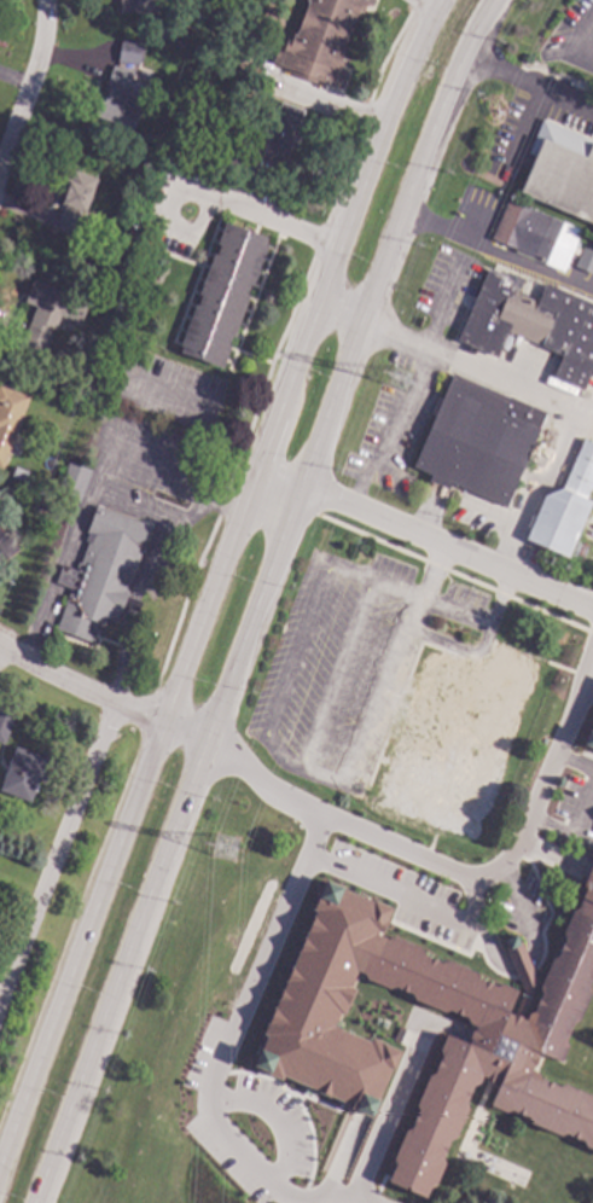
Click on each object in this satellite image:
road: (419, 5)
building: (139, 6)
building: (162, 31)
building: (319, 41)
building: (128, 51)
road: (27, 77)
road: (529, 86)
building: (118, 100)
road: (325, 103)
building: (281, 135)
building: (232, 157)
building: (560, 170)
building: (74, 202)
road: (260, 219)
building: (121, 236)
building: (535, 236)
road: (498, 257)
building: (585, 258)
building: (222, 295)
building: (48, 314)
building: (529, 326)
road: (453, 356)
power tower: (401, 382)
road: (203, 406)
building: (10, 419)
road: (385, 424)
building: (477, 441)
building: (72, 482)
road: (91, 487)
road: (539, 490)
building: (42, 506)
building: (565, 506)
road: (134, 512)
road: (194, 513)
road: (422, 540)
building: (5, 551)
building: (100, 573)
road: (213, 574)
road: (429, 574)
road: (395, 591)
road: (257, 599)
road: (130, 608)
road: (479, 623)
road: (583, 657)
road: (336, 675)
road: (589, 679)
road: (379, 692)
road: (99, 698)
building: (6, 716)
building: (589, 738)
building: (455, 740)
road: (576, 763)
building: (22, 774)
road: (321, 775)
road: (575, 826)
power tower: (228, 850)
road: (56, 856)
road: (441, 870)
road: (463, 925)
road: (225, 1034)
building: (490, 1041)

